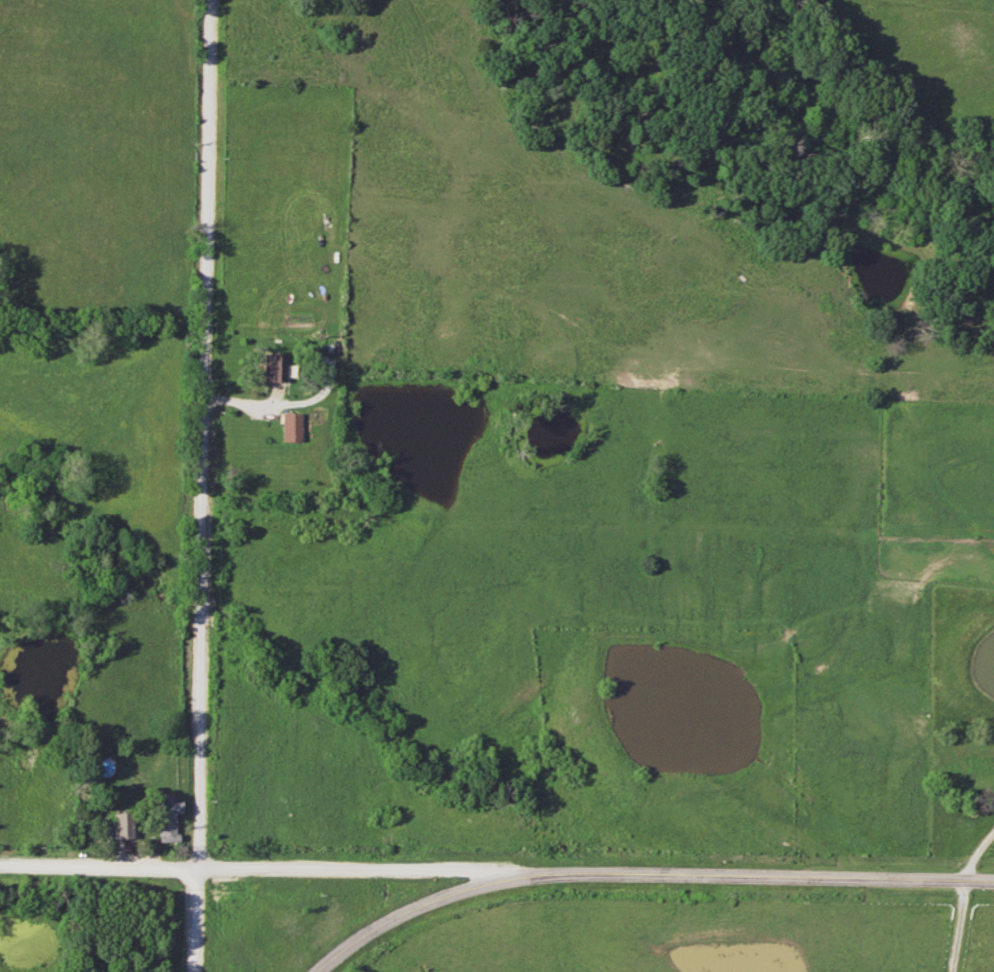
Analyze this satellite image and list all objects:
building: (275, 368)
building: (291, 428)
road: (205, 434)
building: (972, 764)
building: (167, 820)
building: (120, 825)
road: (98, 868)
road: (379, 869)
road: (777, 876)
road: (963, 899)
road: (431, 902)
road: (194, 920)
park: (118, 928)

